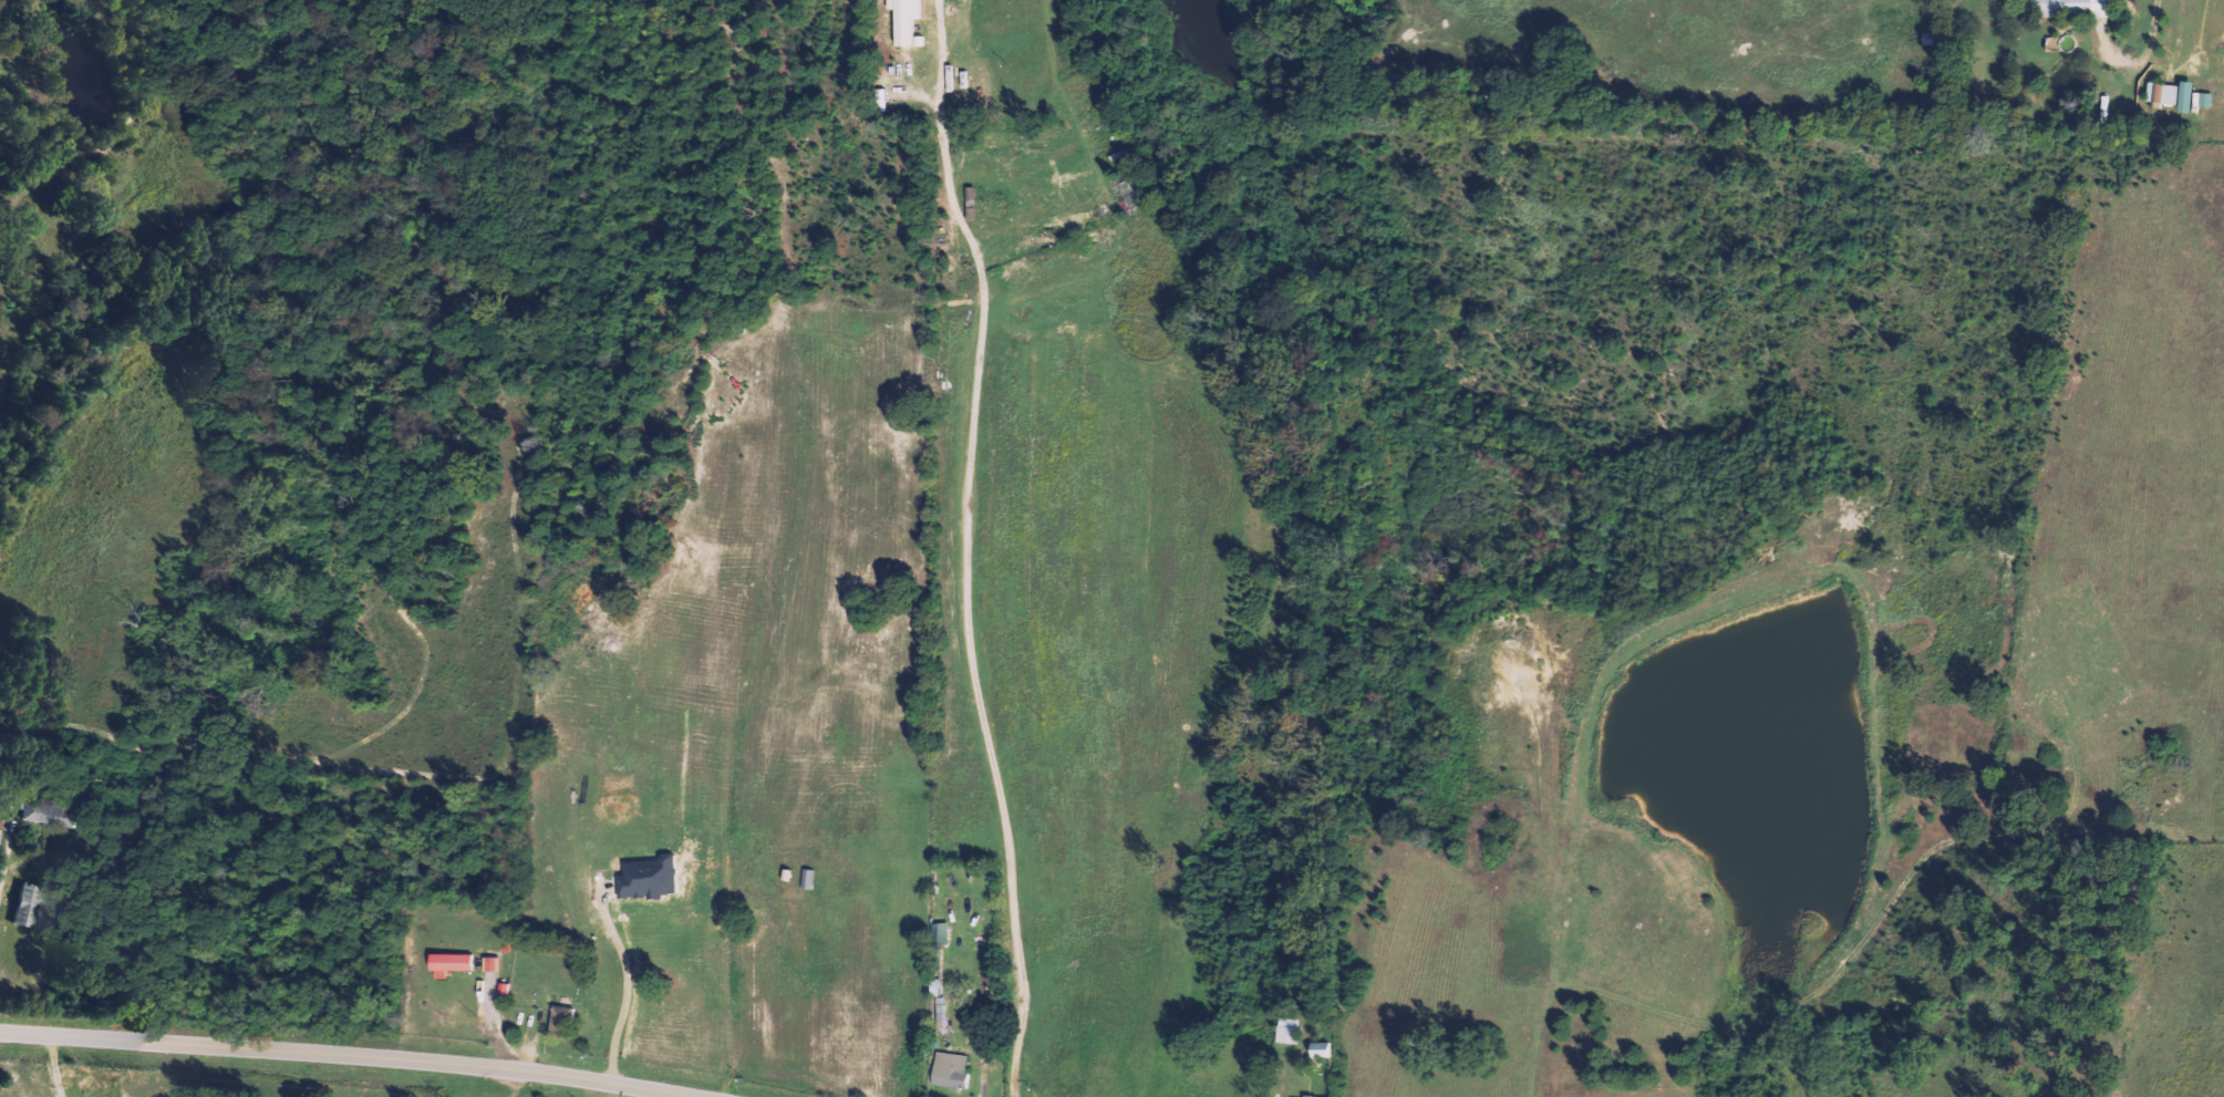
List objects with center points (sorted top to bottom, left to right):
building: (2070, 7)
building: (902, 19)
building: (2171, 94)
building: (2202, 99)
building: (880, 100)
road: (939, 164)
road: (960, 496)
building: (45, 813)
building: (24, 907)
building: (940, 933)
building: (448, 964)
building: (492, 964)
building: (934, 987)
building: (941, 1011)
building: (561, 1023)
building: (1287, 1031)
building: (1320, 1051)
road: (351, 1055)
building: (950, 1070)

